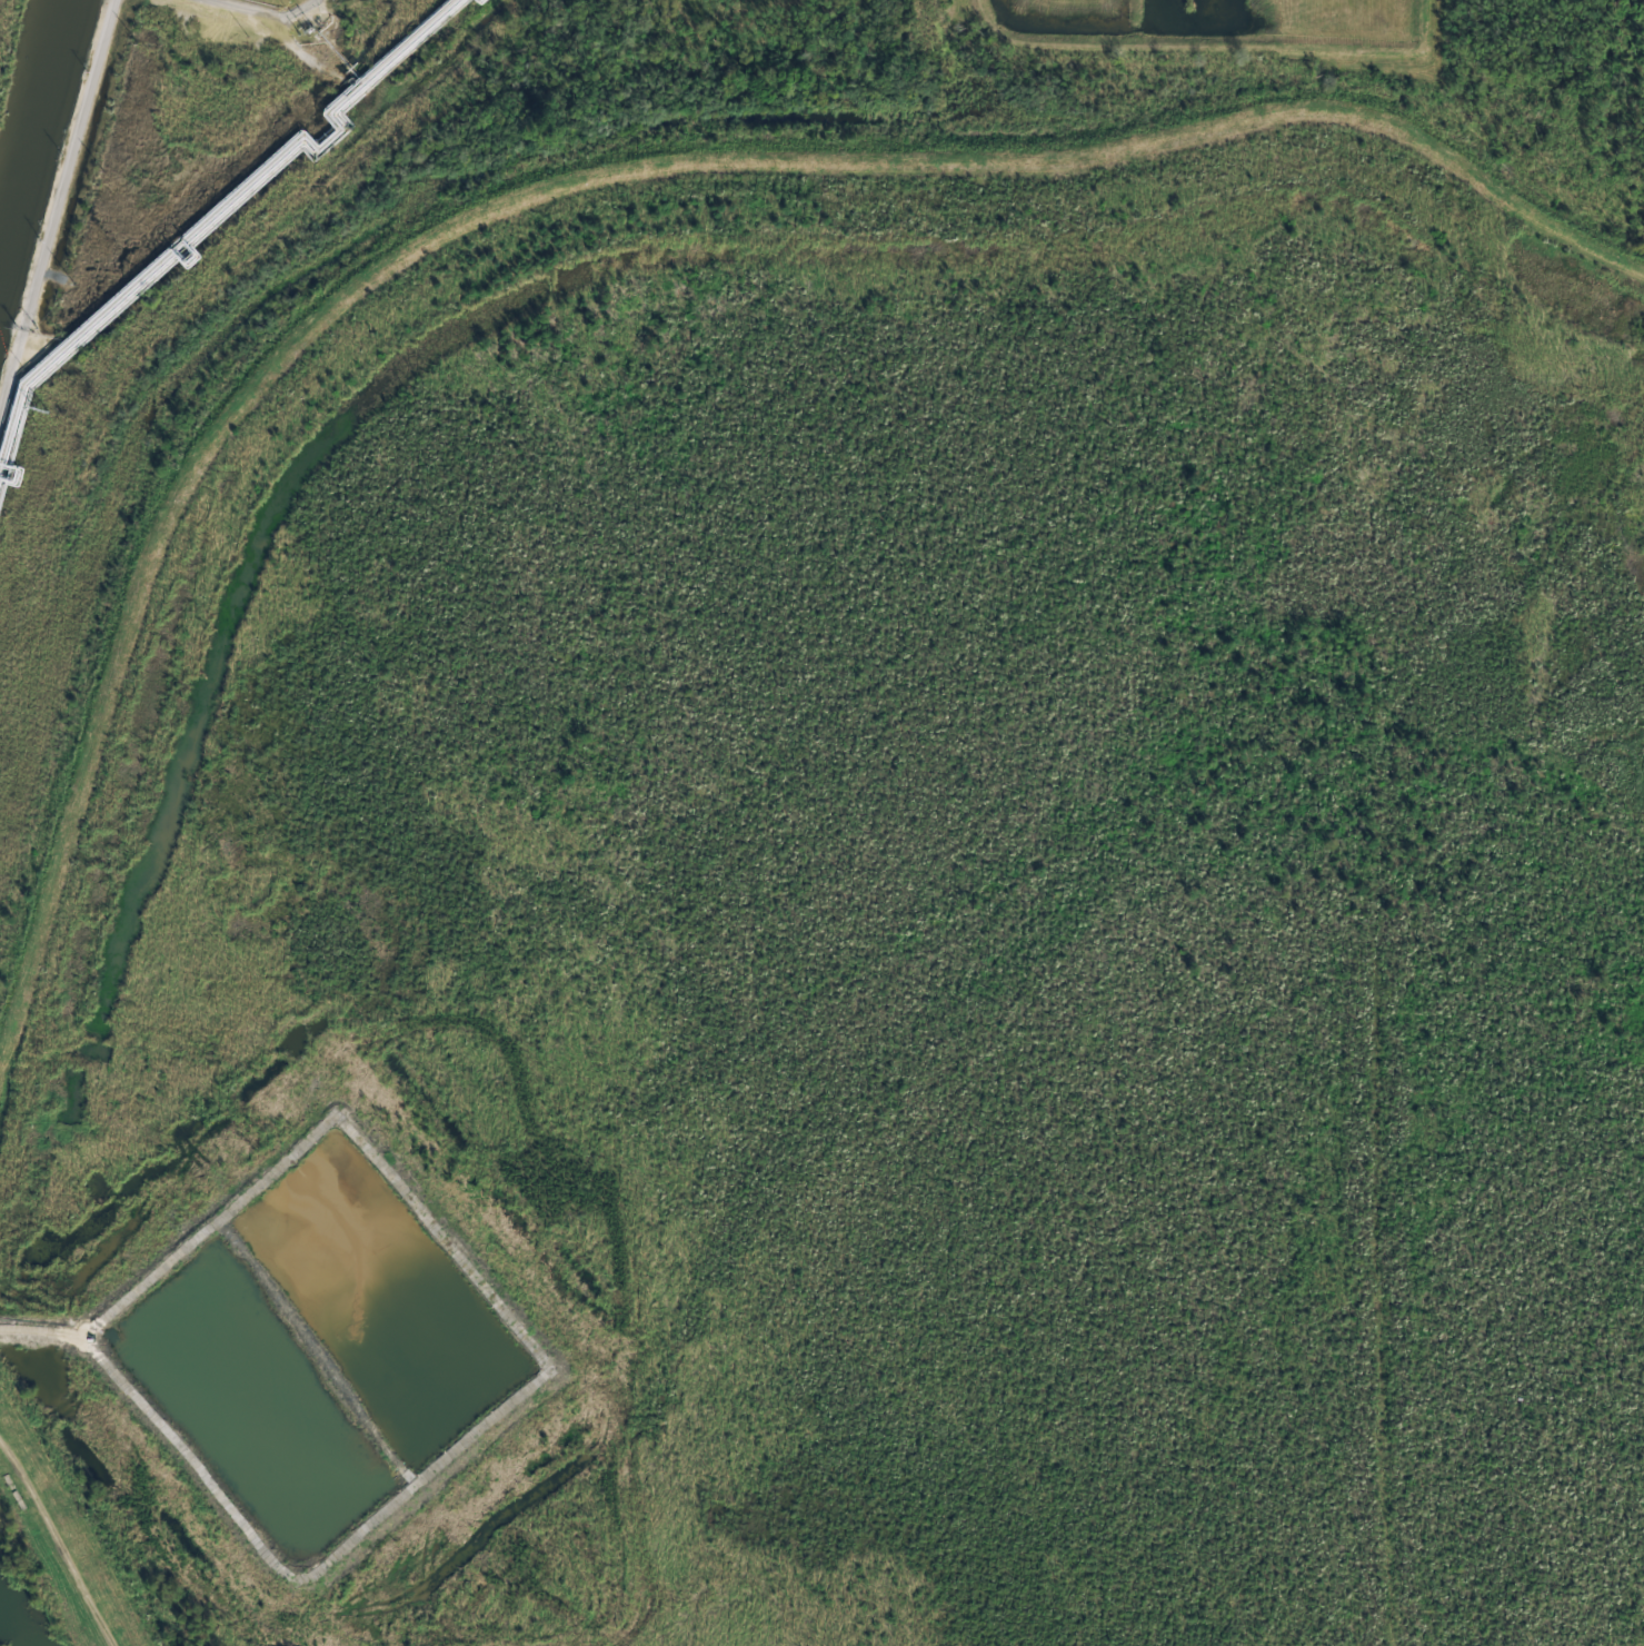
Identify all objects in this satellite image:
road: (66, 234)

